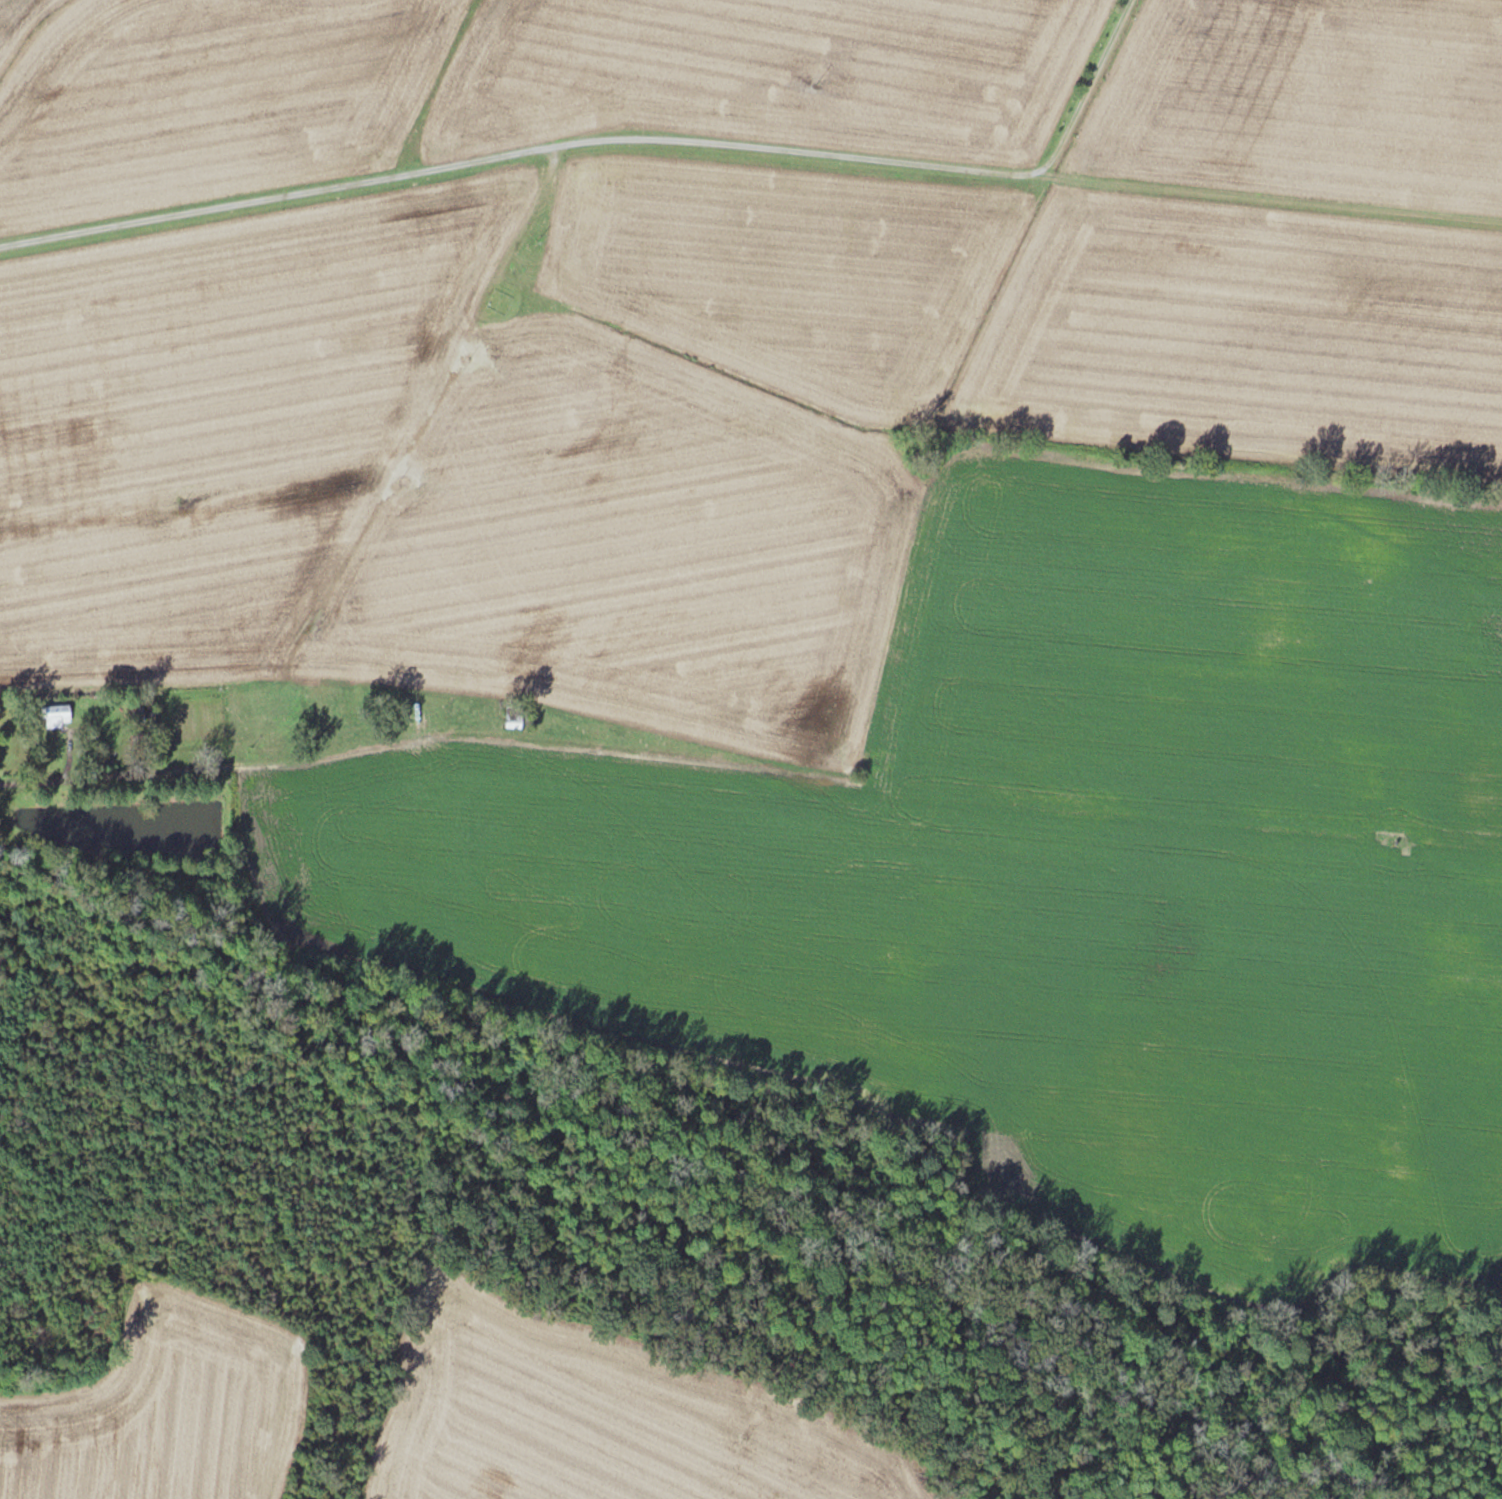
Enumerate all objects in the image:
road: (614, 139)
building: (61, 715)
building: (138, 715)
building: (519, 717)
road: (34, 782)

